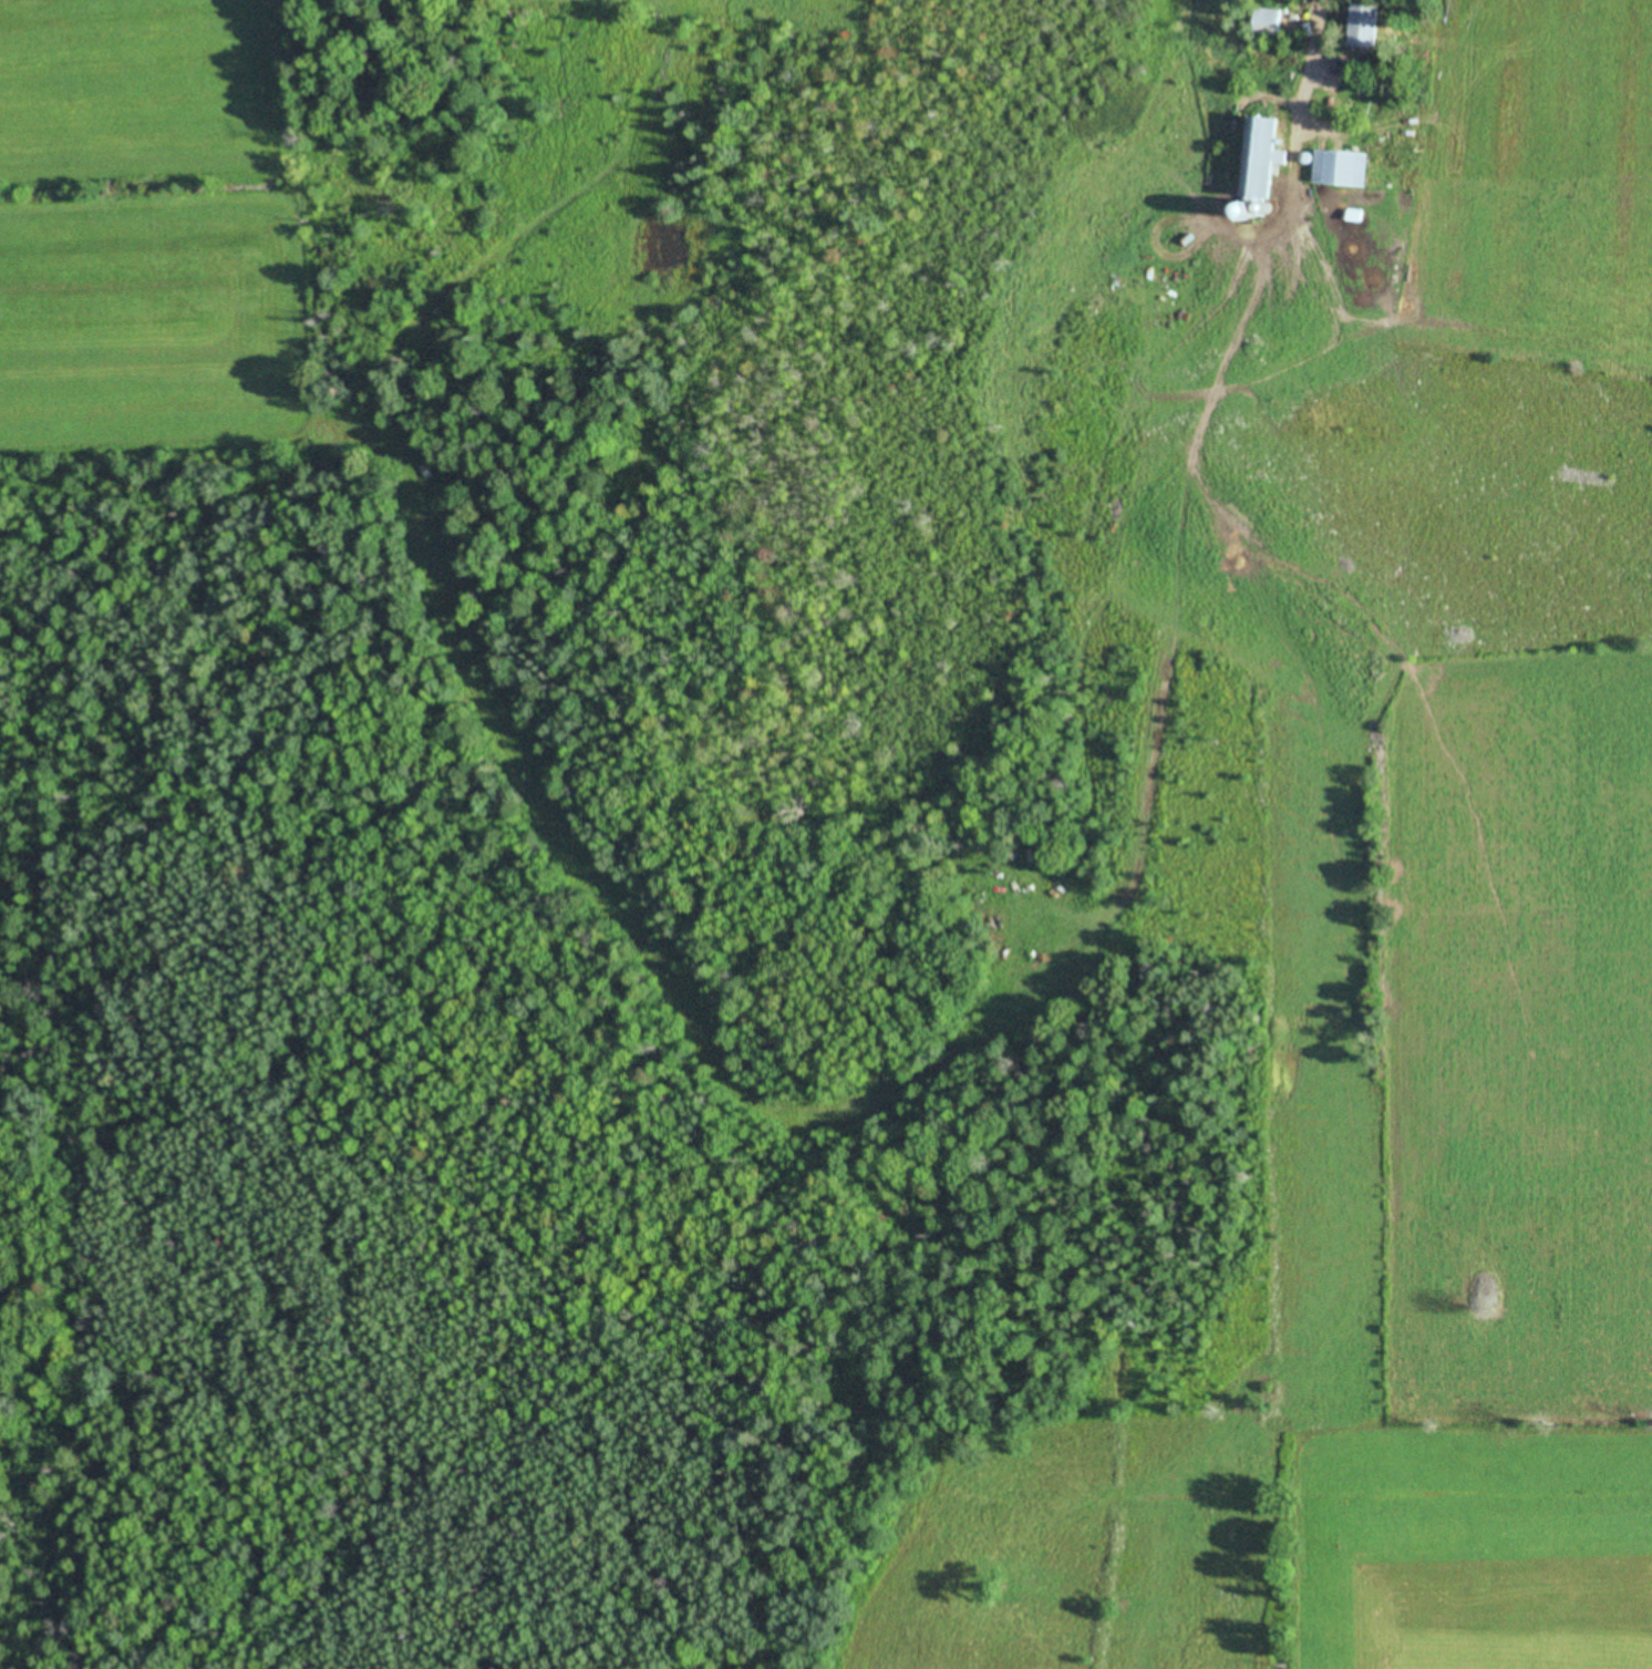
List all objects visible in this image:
building: (1367, 27)
building: (1262, 159)
building: (1343, 169)

